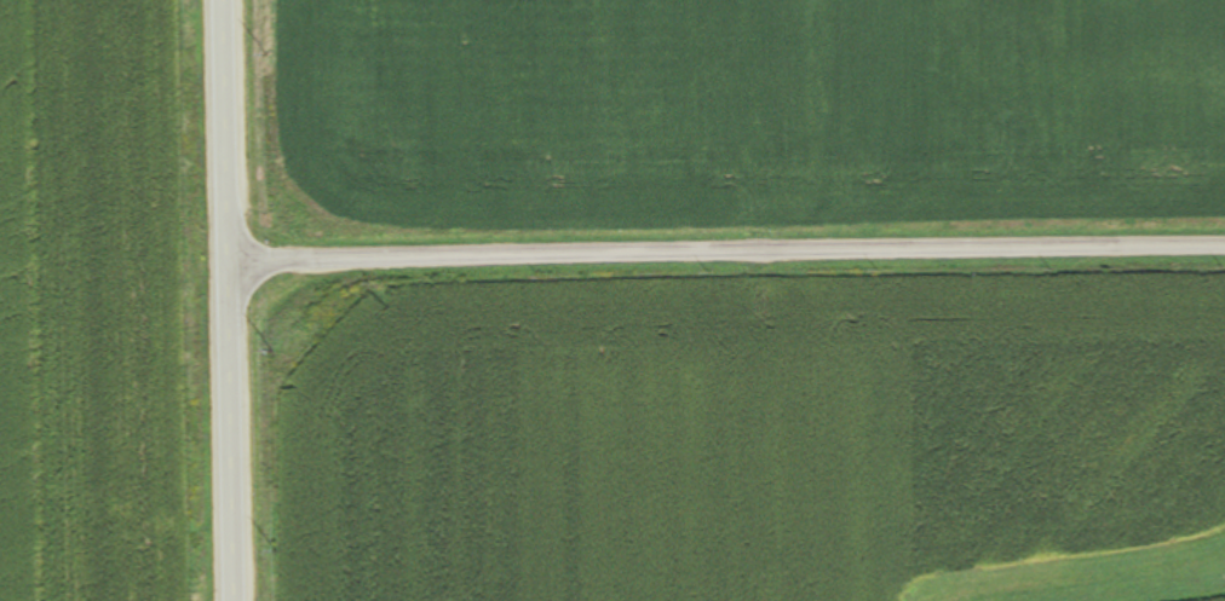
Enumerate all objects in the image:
road: (725, 266)
road: (226, 300)

